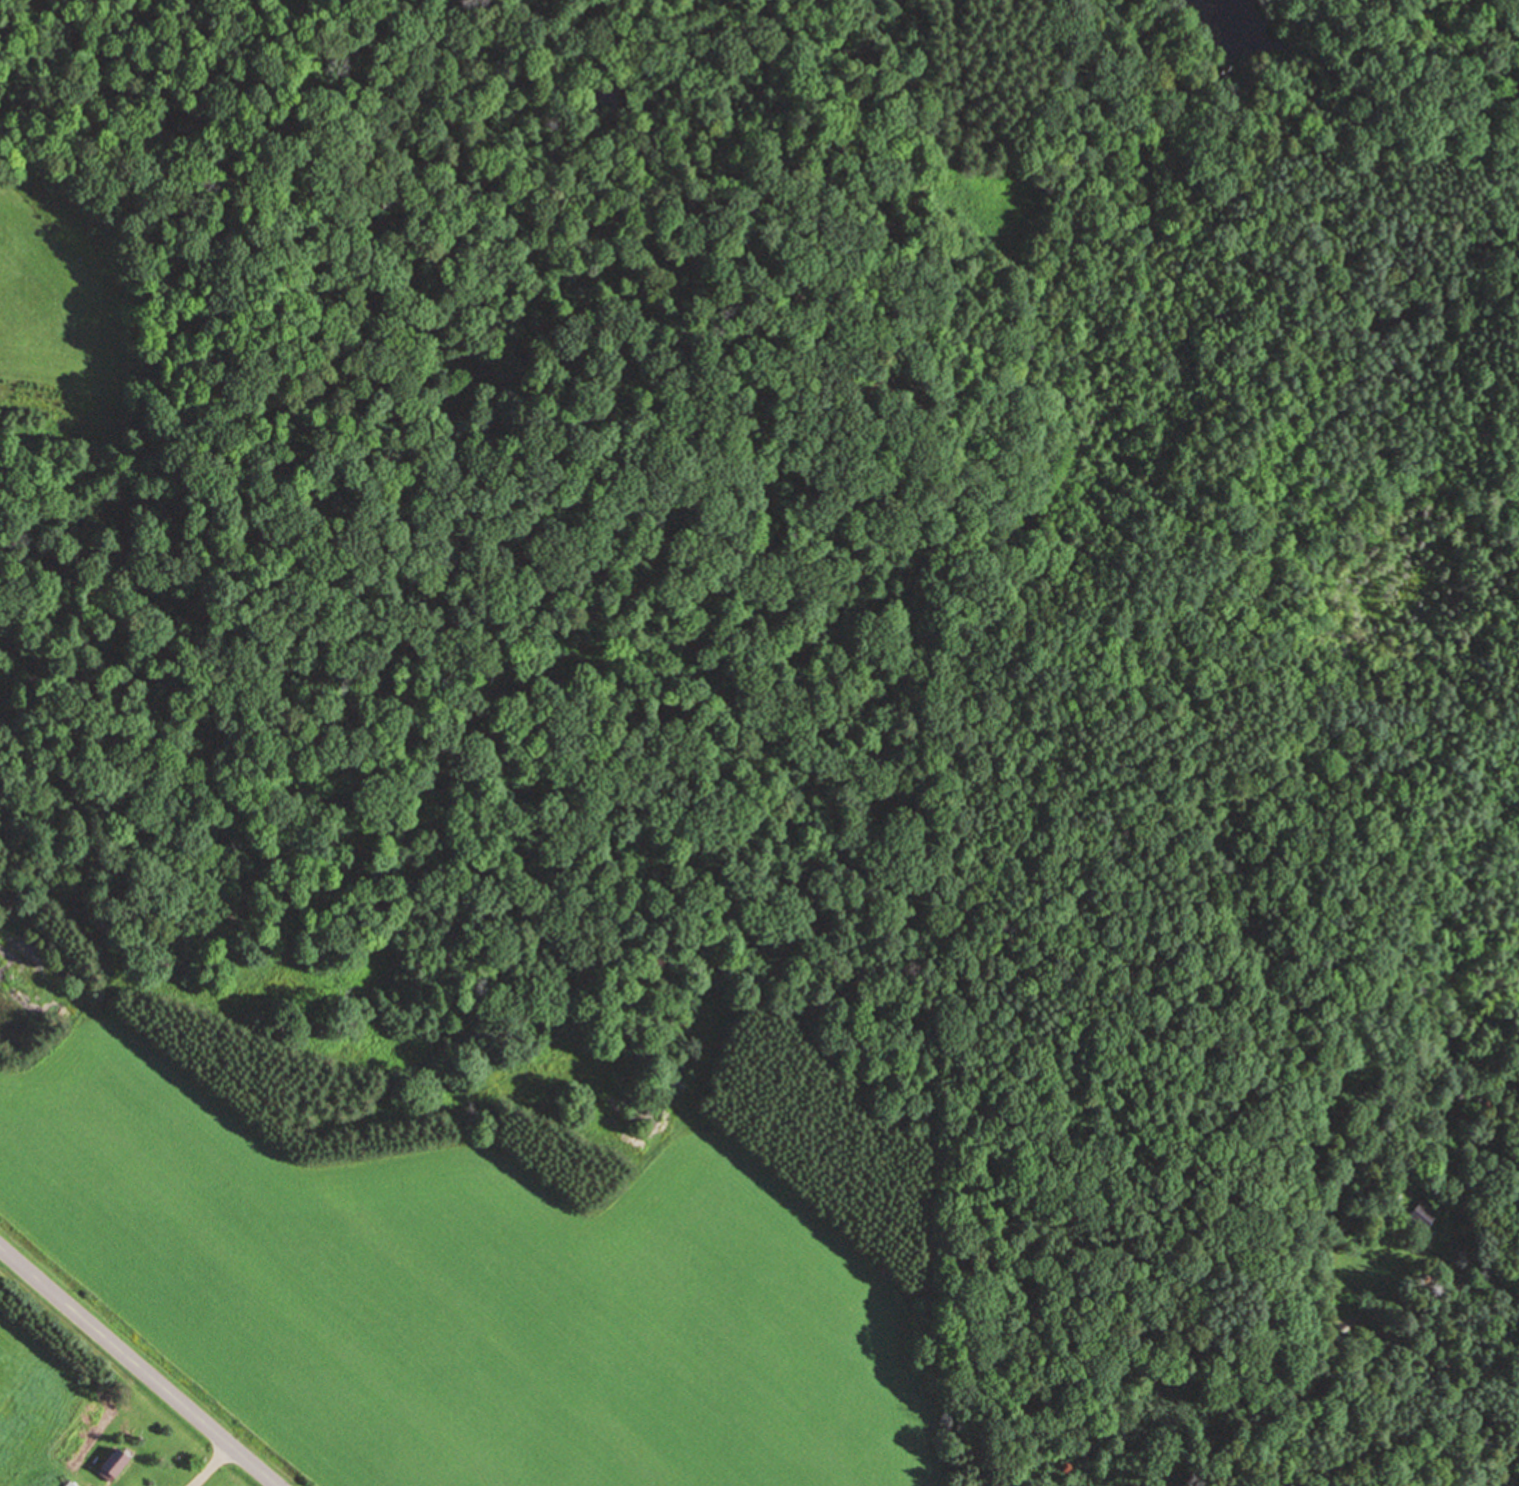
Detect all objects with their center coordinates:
road: (140, 1365)
building: (118, 1464)
road: (209, 1464)
building: (73, 1484)

